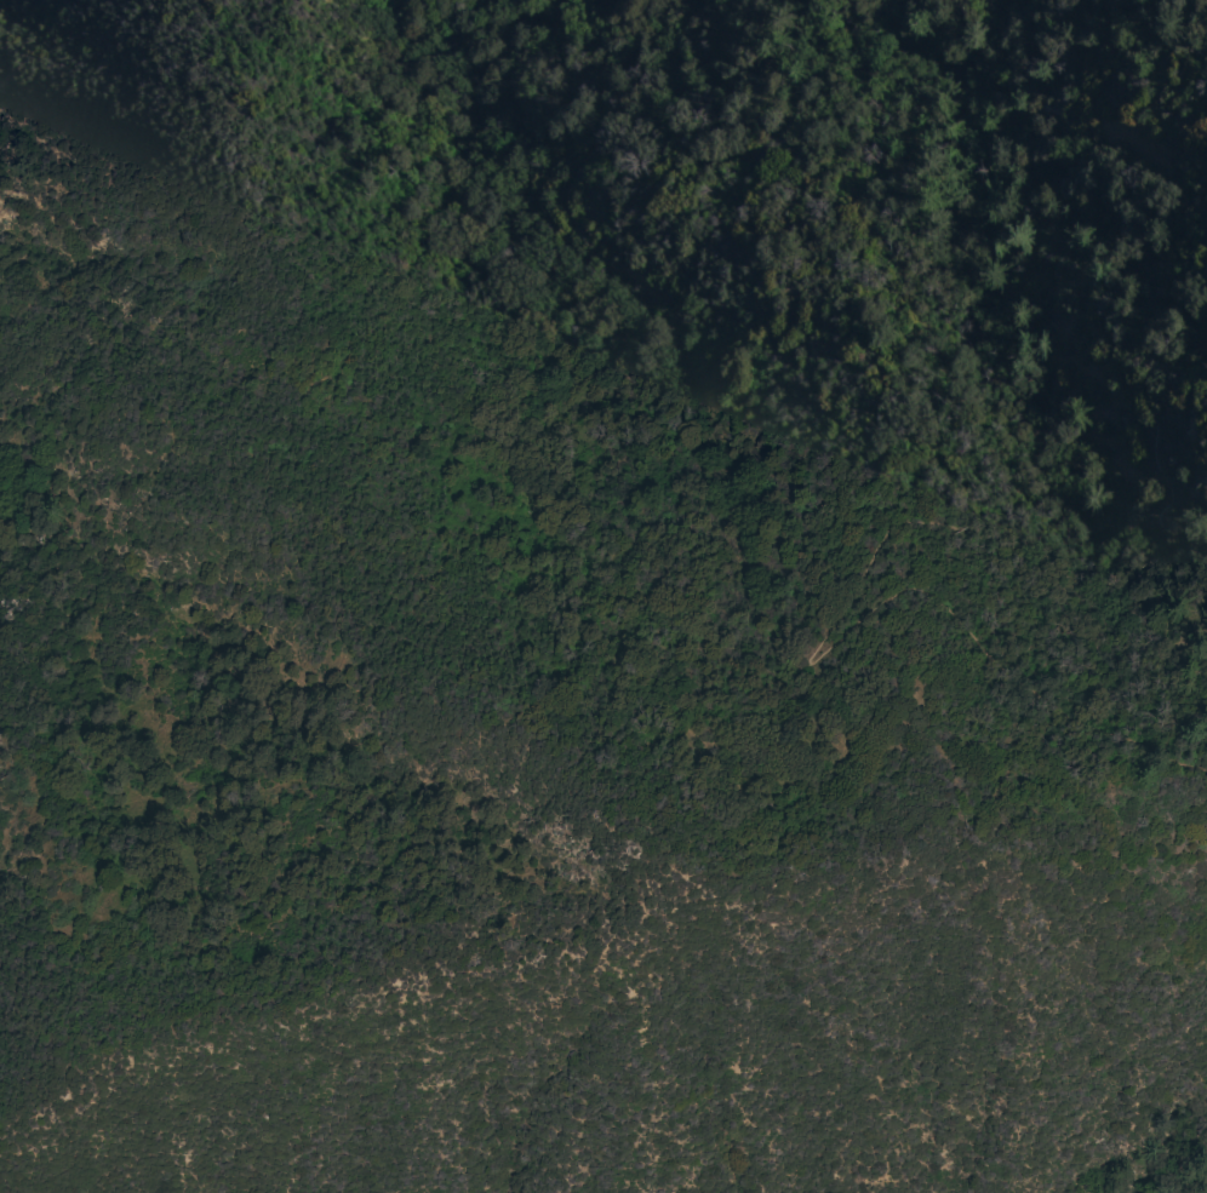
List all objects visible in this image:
road: (892, 529)

